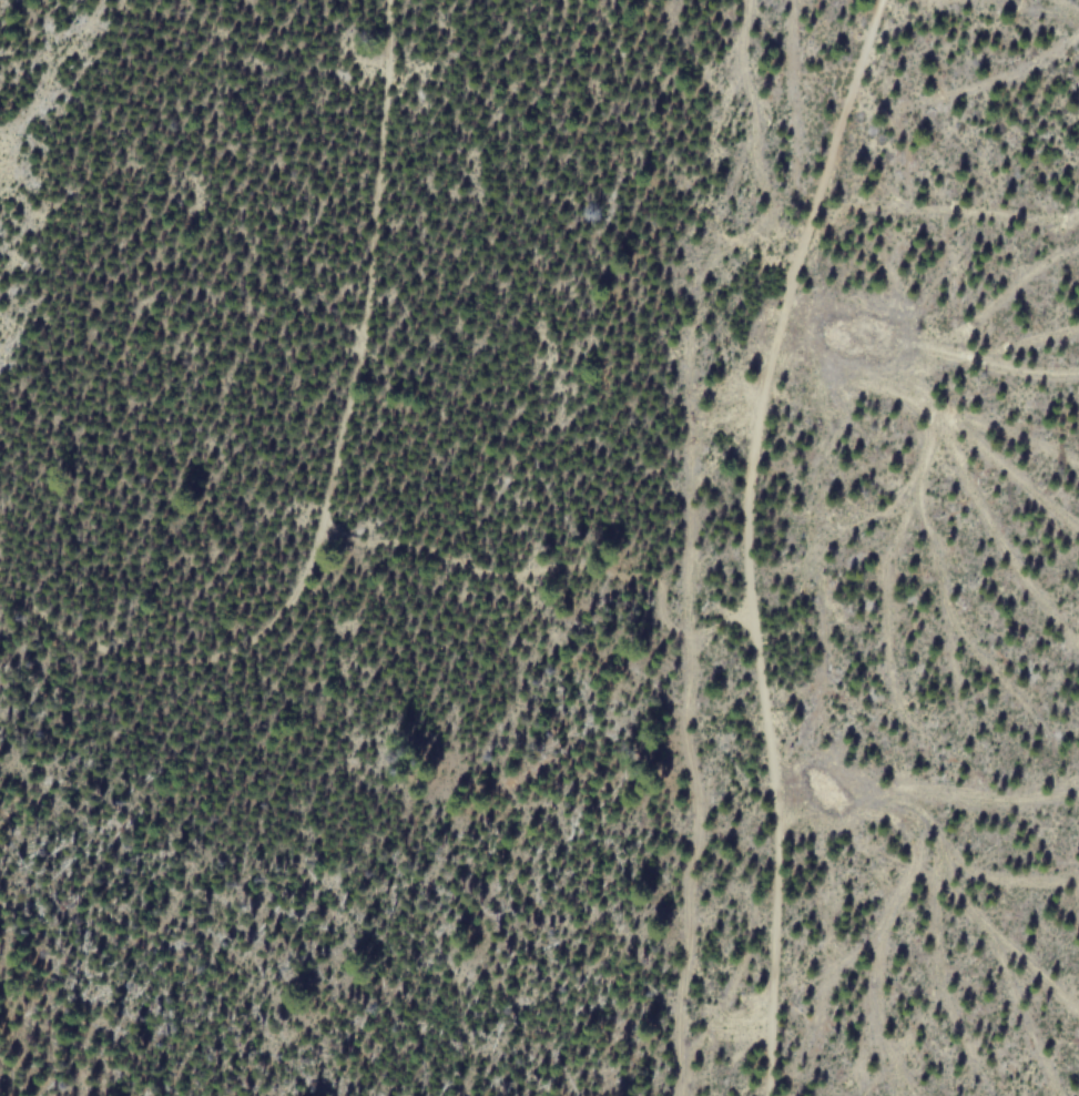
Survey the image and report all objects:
road: (334, 468)
road: (747, 539)

